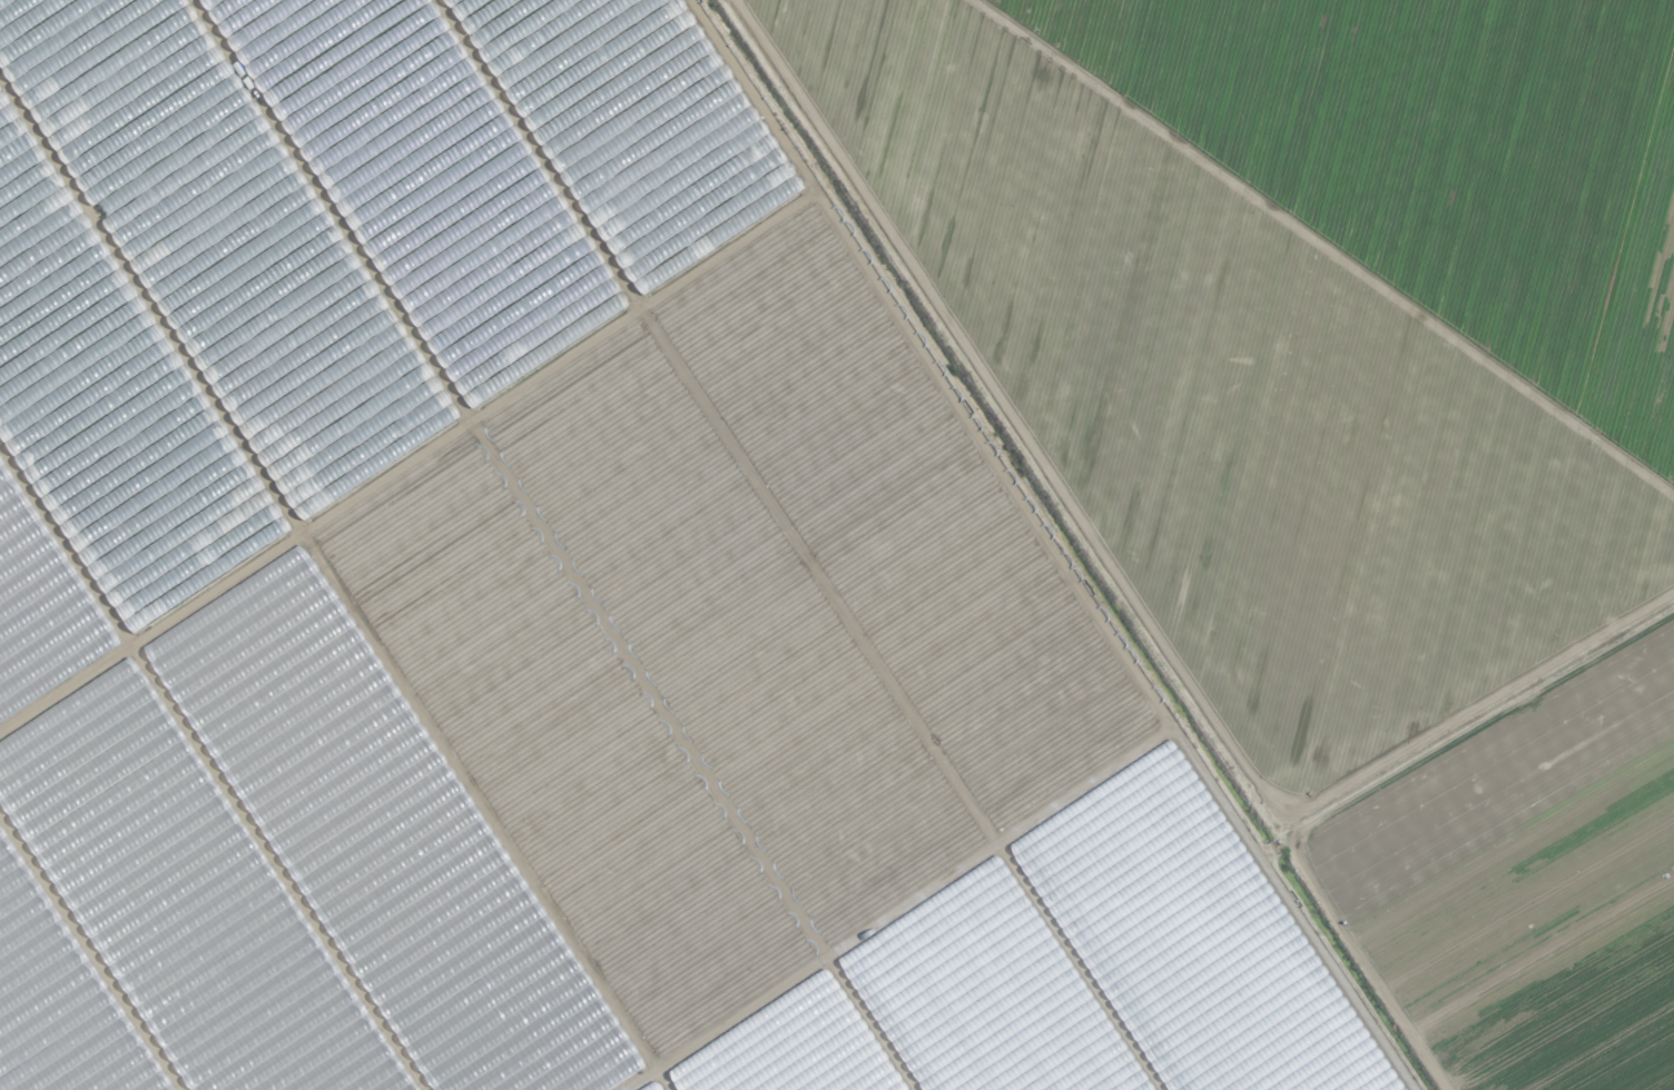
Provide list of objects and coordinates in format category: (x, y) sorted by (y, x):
crop: (837, 545)

